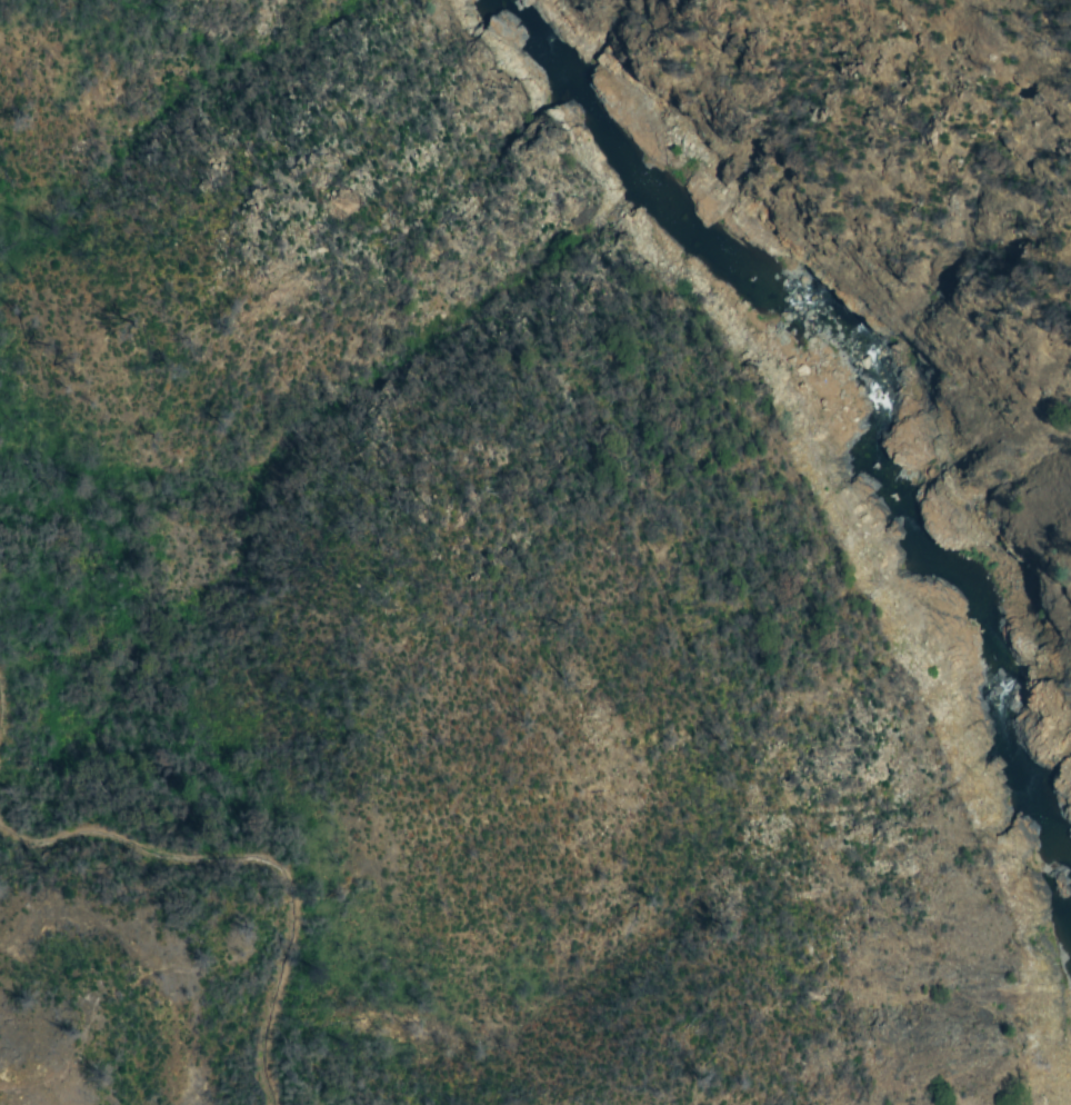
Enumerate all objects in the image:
river: (850, 418)

